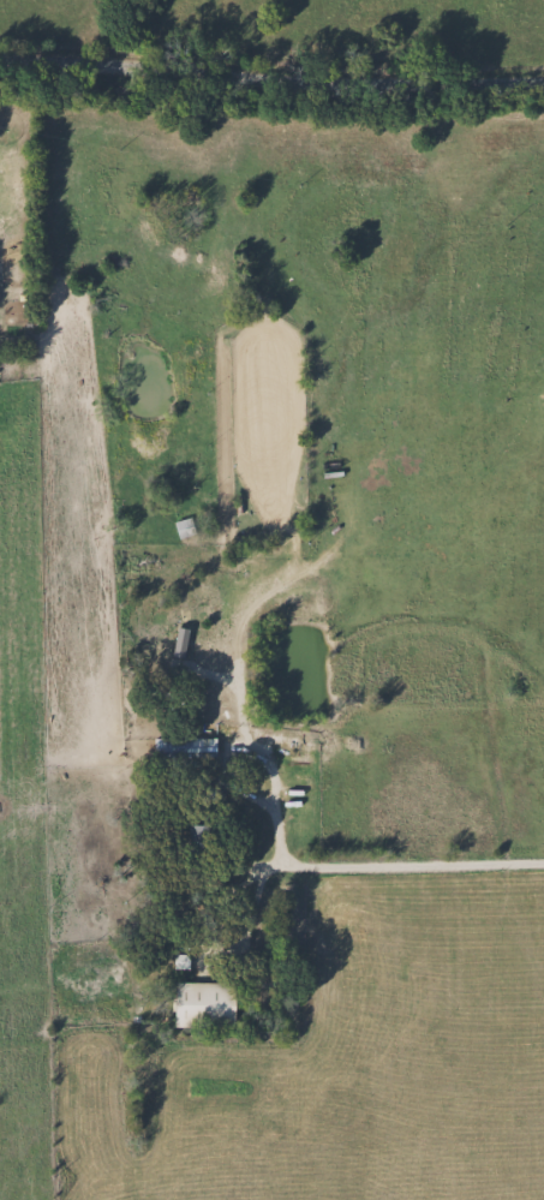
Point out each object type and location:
road: (271, 76)
building: (183, 527)
building: (184, 752)
building: (197, 838)
road: (417, 868)
building: (202, 1004)

